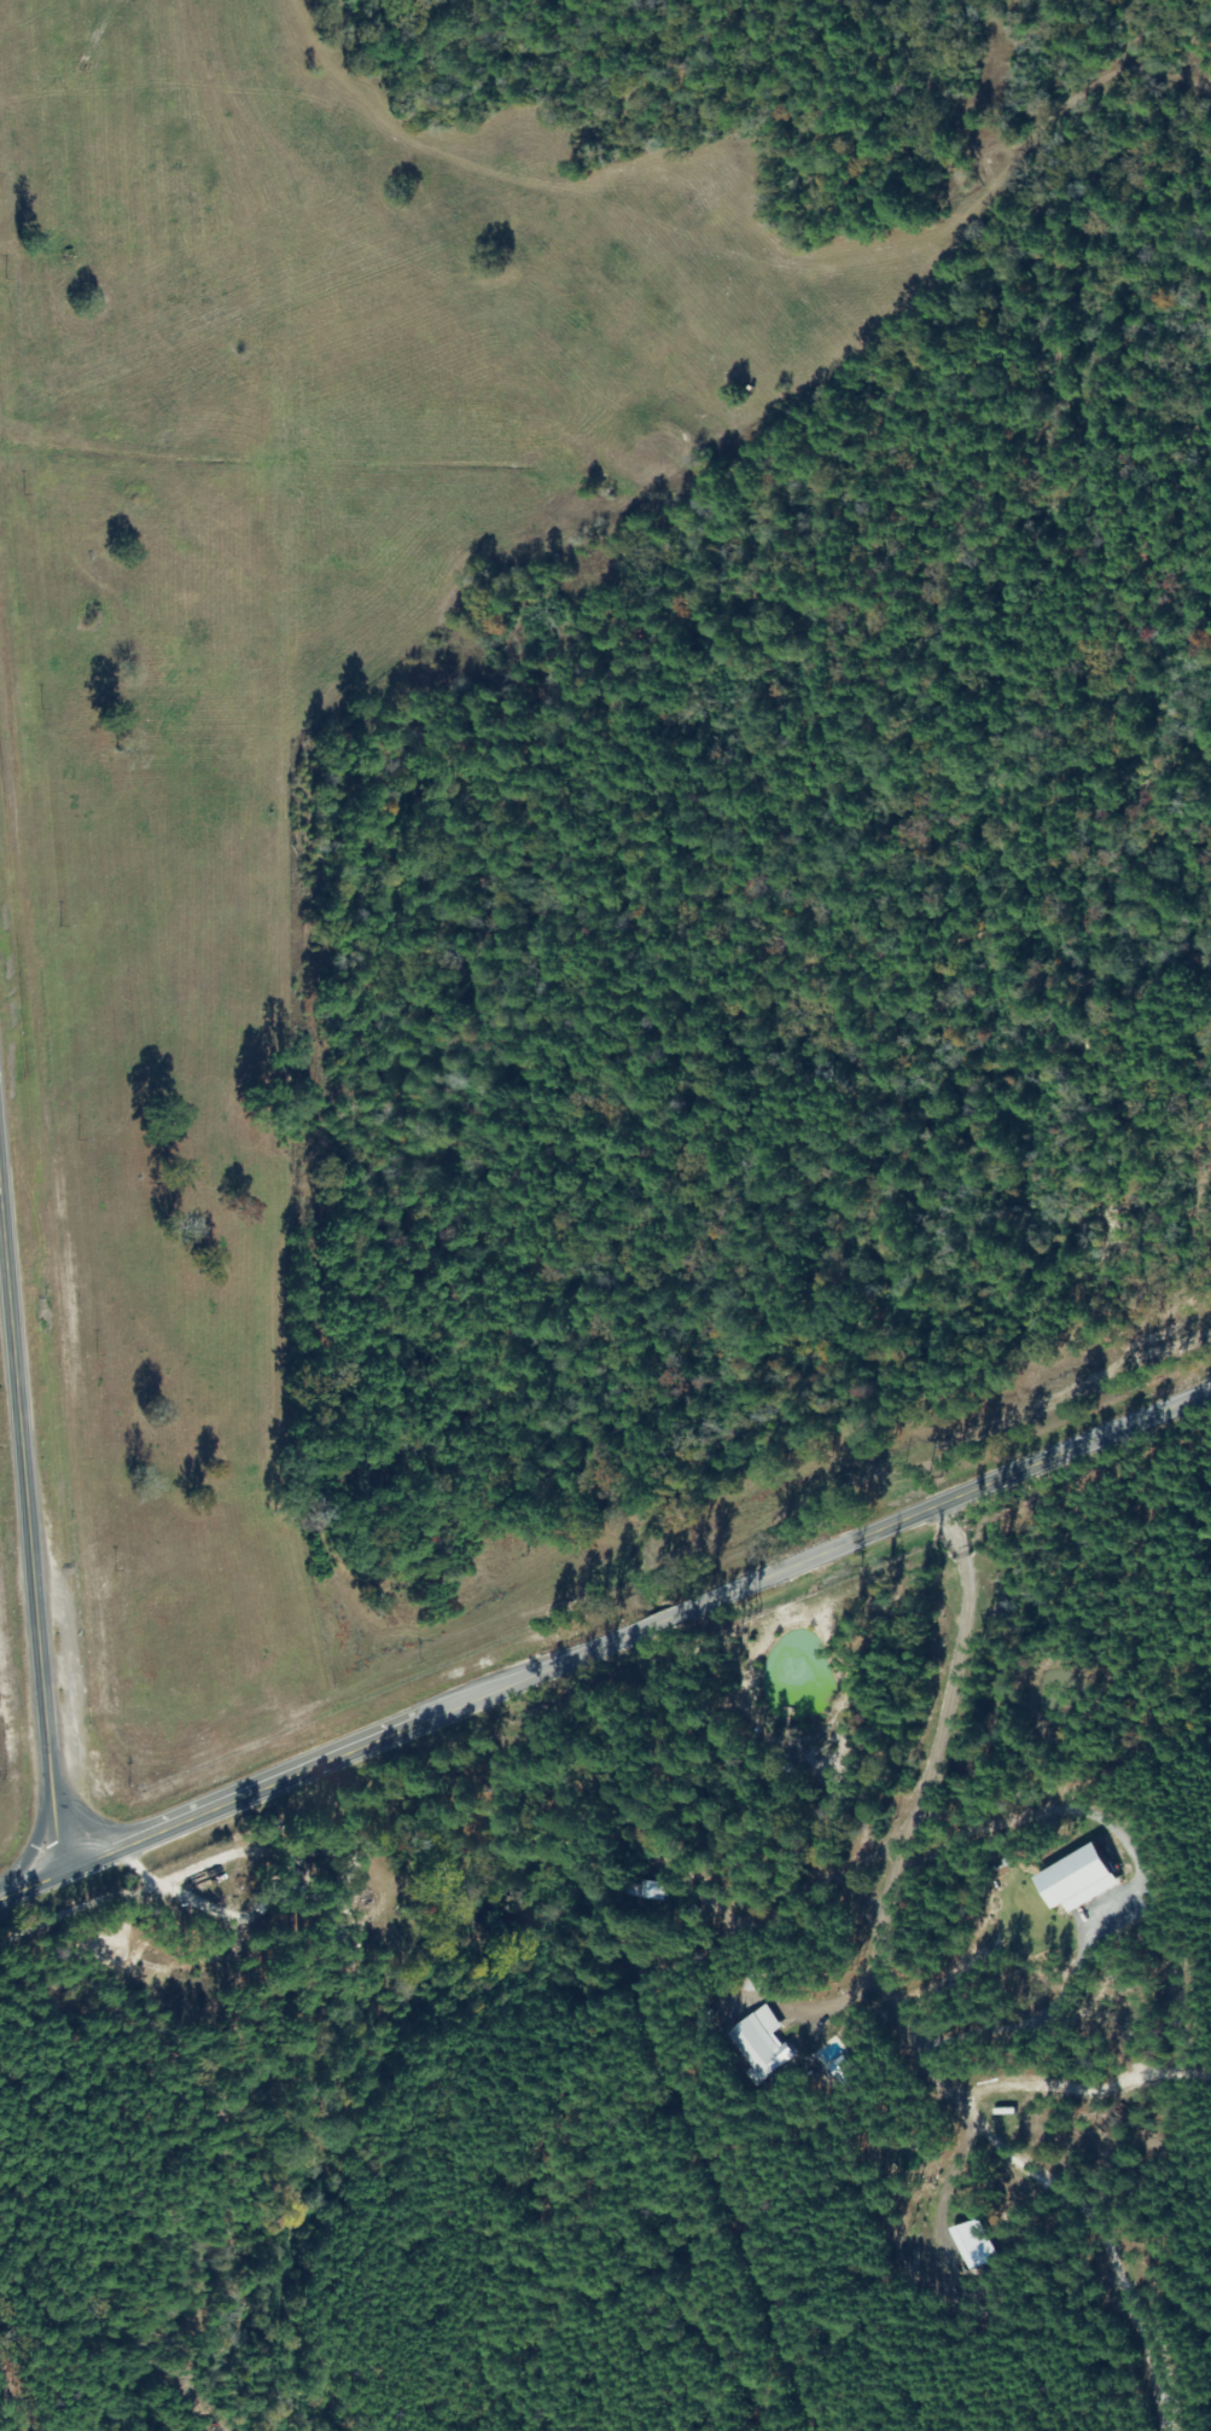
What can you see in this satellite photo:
road: (30, 1527)
road: (605, 1642)

